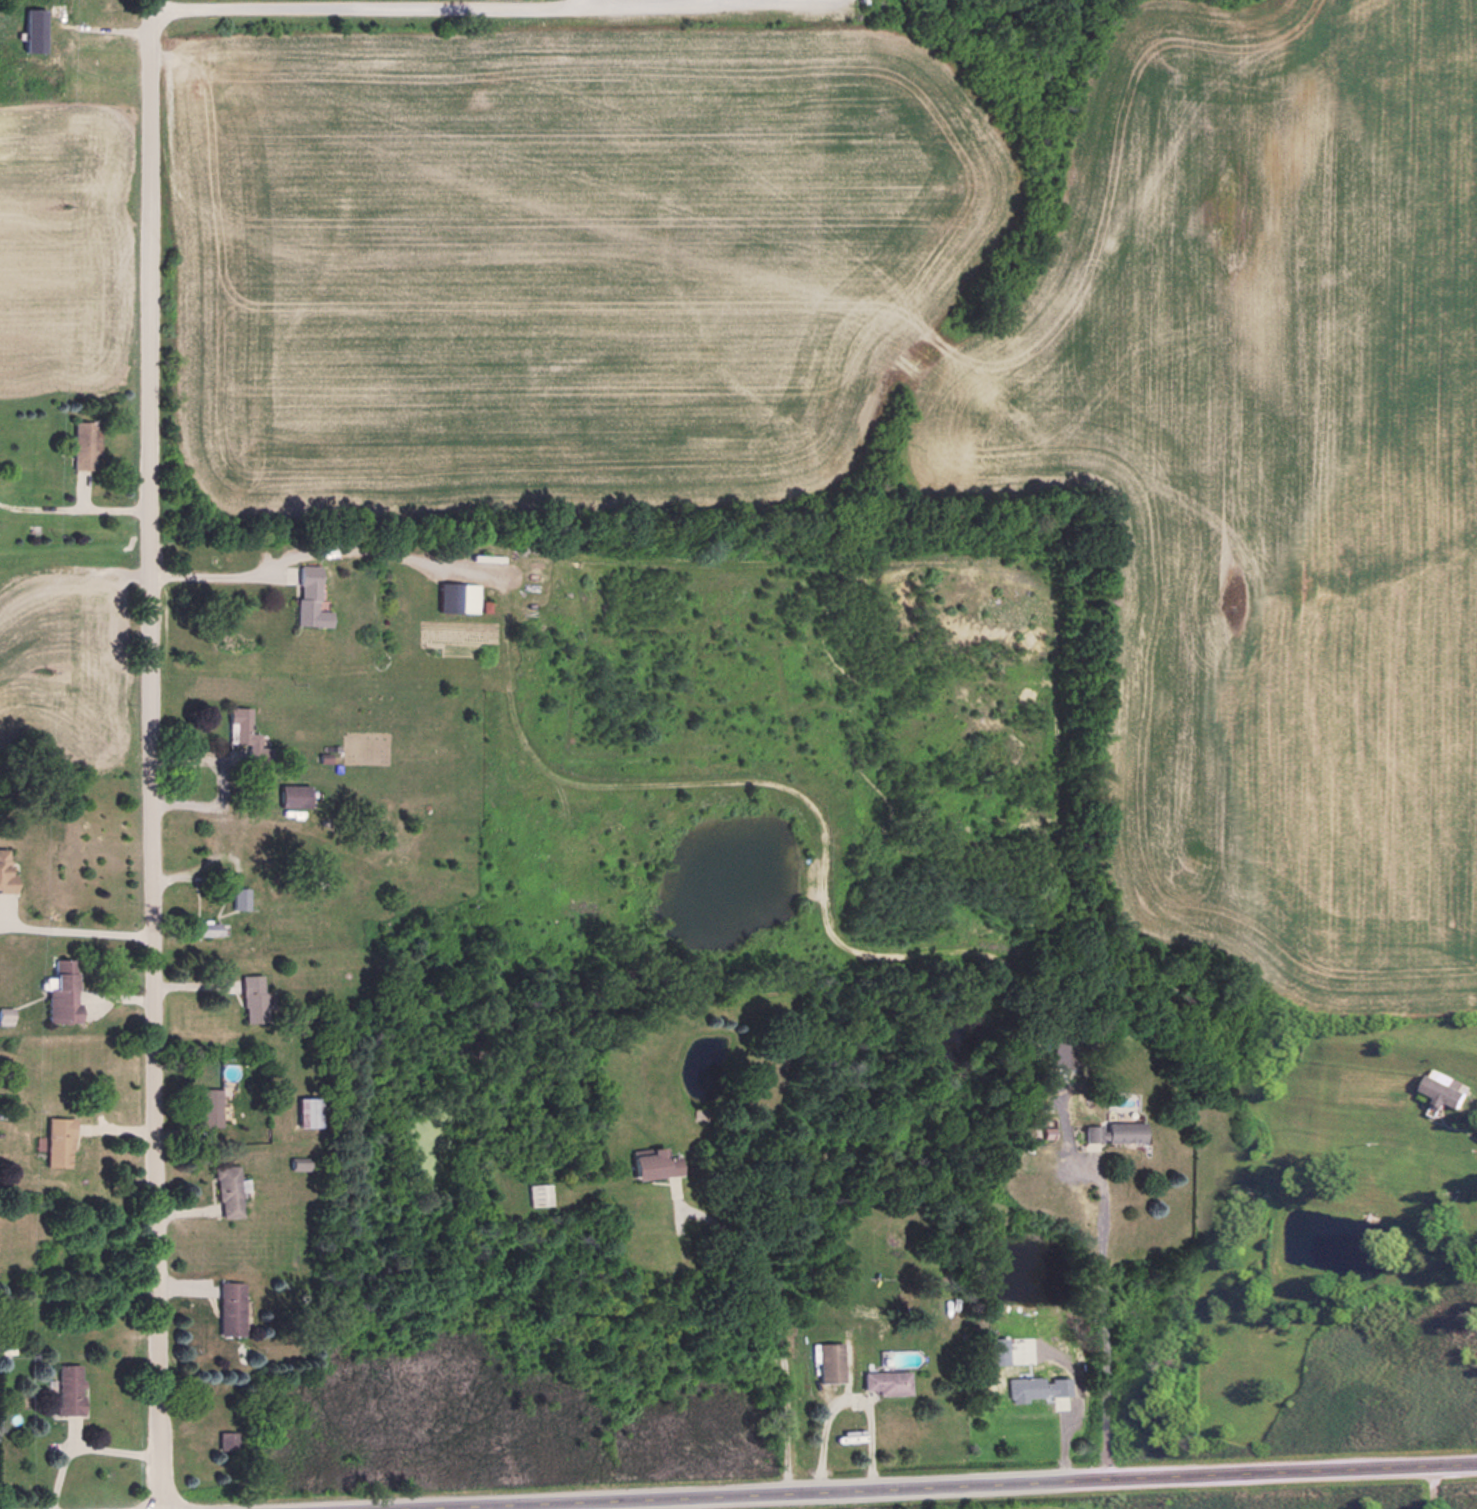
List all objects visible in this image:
road: (706, 3)
road: (772, 4)
road: (426, 9)
building: (33, 31)
building: (84, 445)
road: (76, 512)
building: (310, 598)
building: (456, 598)
building: (245, 737)
road: (154, 754)
building: (292, 796)
building: (5, 874)
road: (80, 931)
building: (61, 992)
building: (252, 998)
building: (1444, 1089)
building: (207, 1109)
building: (305, 1112)
building: (1111, 1132)
building: (57, 1142)
building: (297, 1163)
building: (652, 1163)
building: (227, 1191)
building: (228, 1308)
road: (768, 1312)
road: (1102, 1319)
building: (6, 1345)
building: (995, 1351)
building: (828, 1362)
building: (882, 1382)
building: (1034, 1388)
building: (66, 1390)
road: (52, 1417)
road: (101, 1449)
road: (59, 1476)
road: (921, 1483)
road: (1430, 1485)

